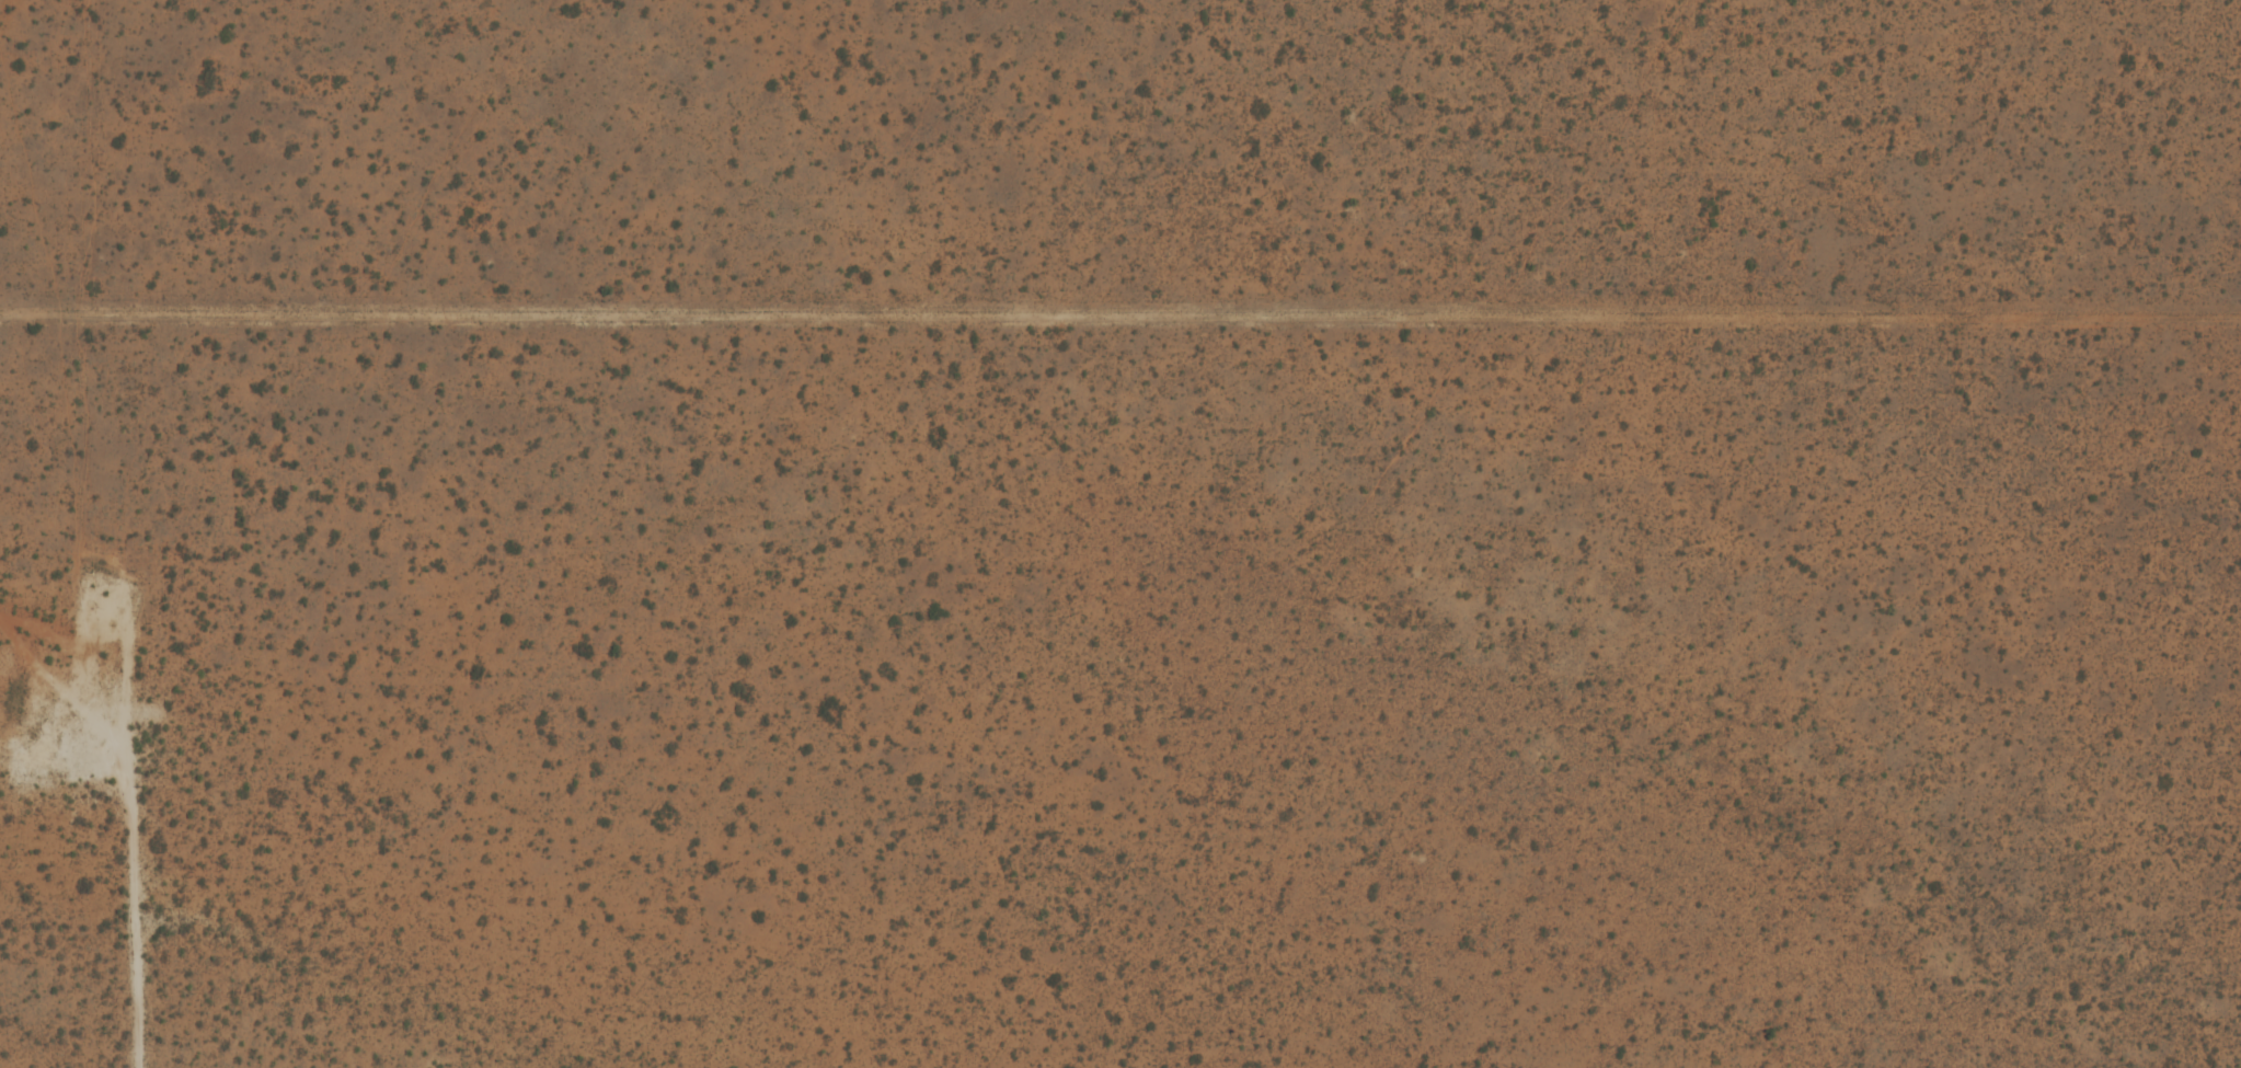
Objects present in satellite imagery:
road: (140, 949)

